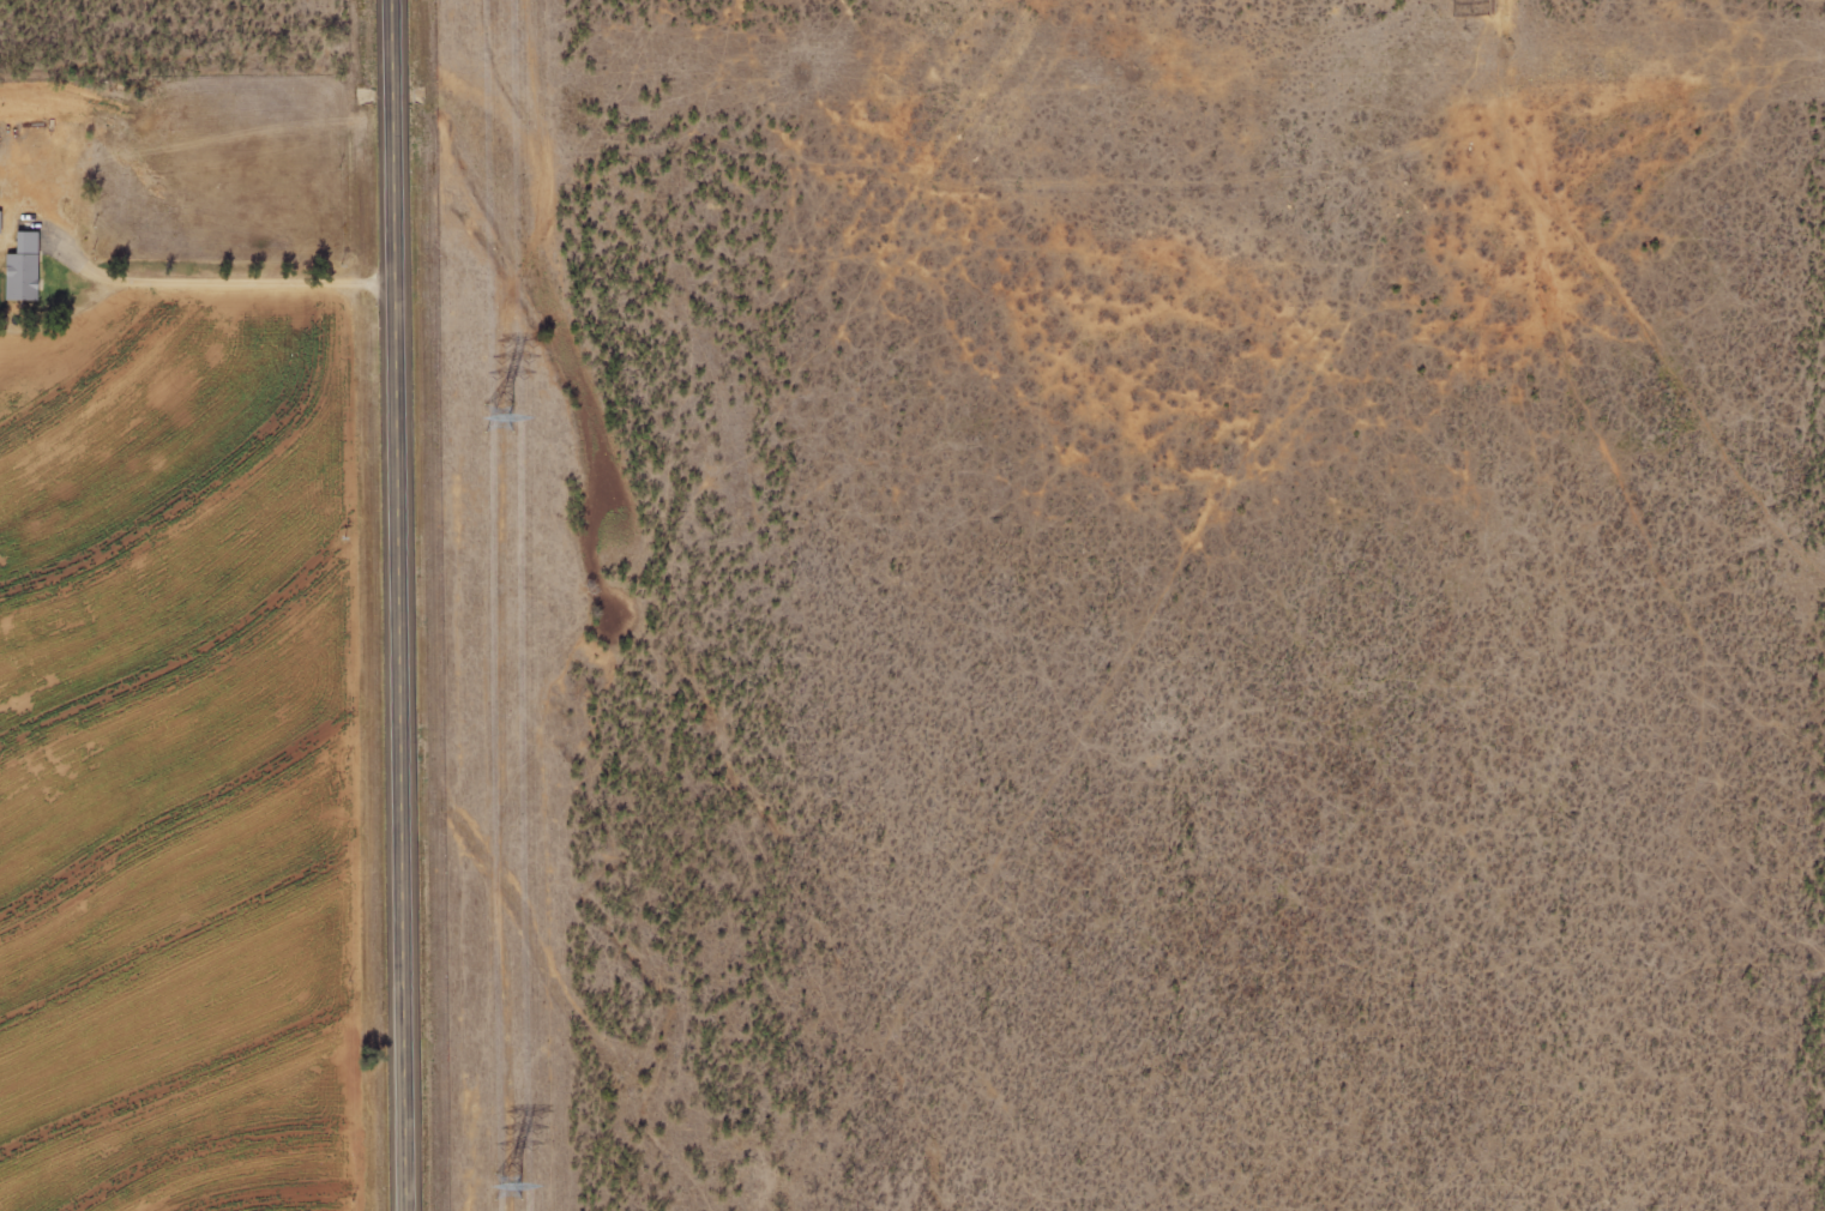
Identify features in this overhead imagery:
building: (24, 267)
power tower: (494, 417)
road: (402, 605)
power tower: (504, 1186)

